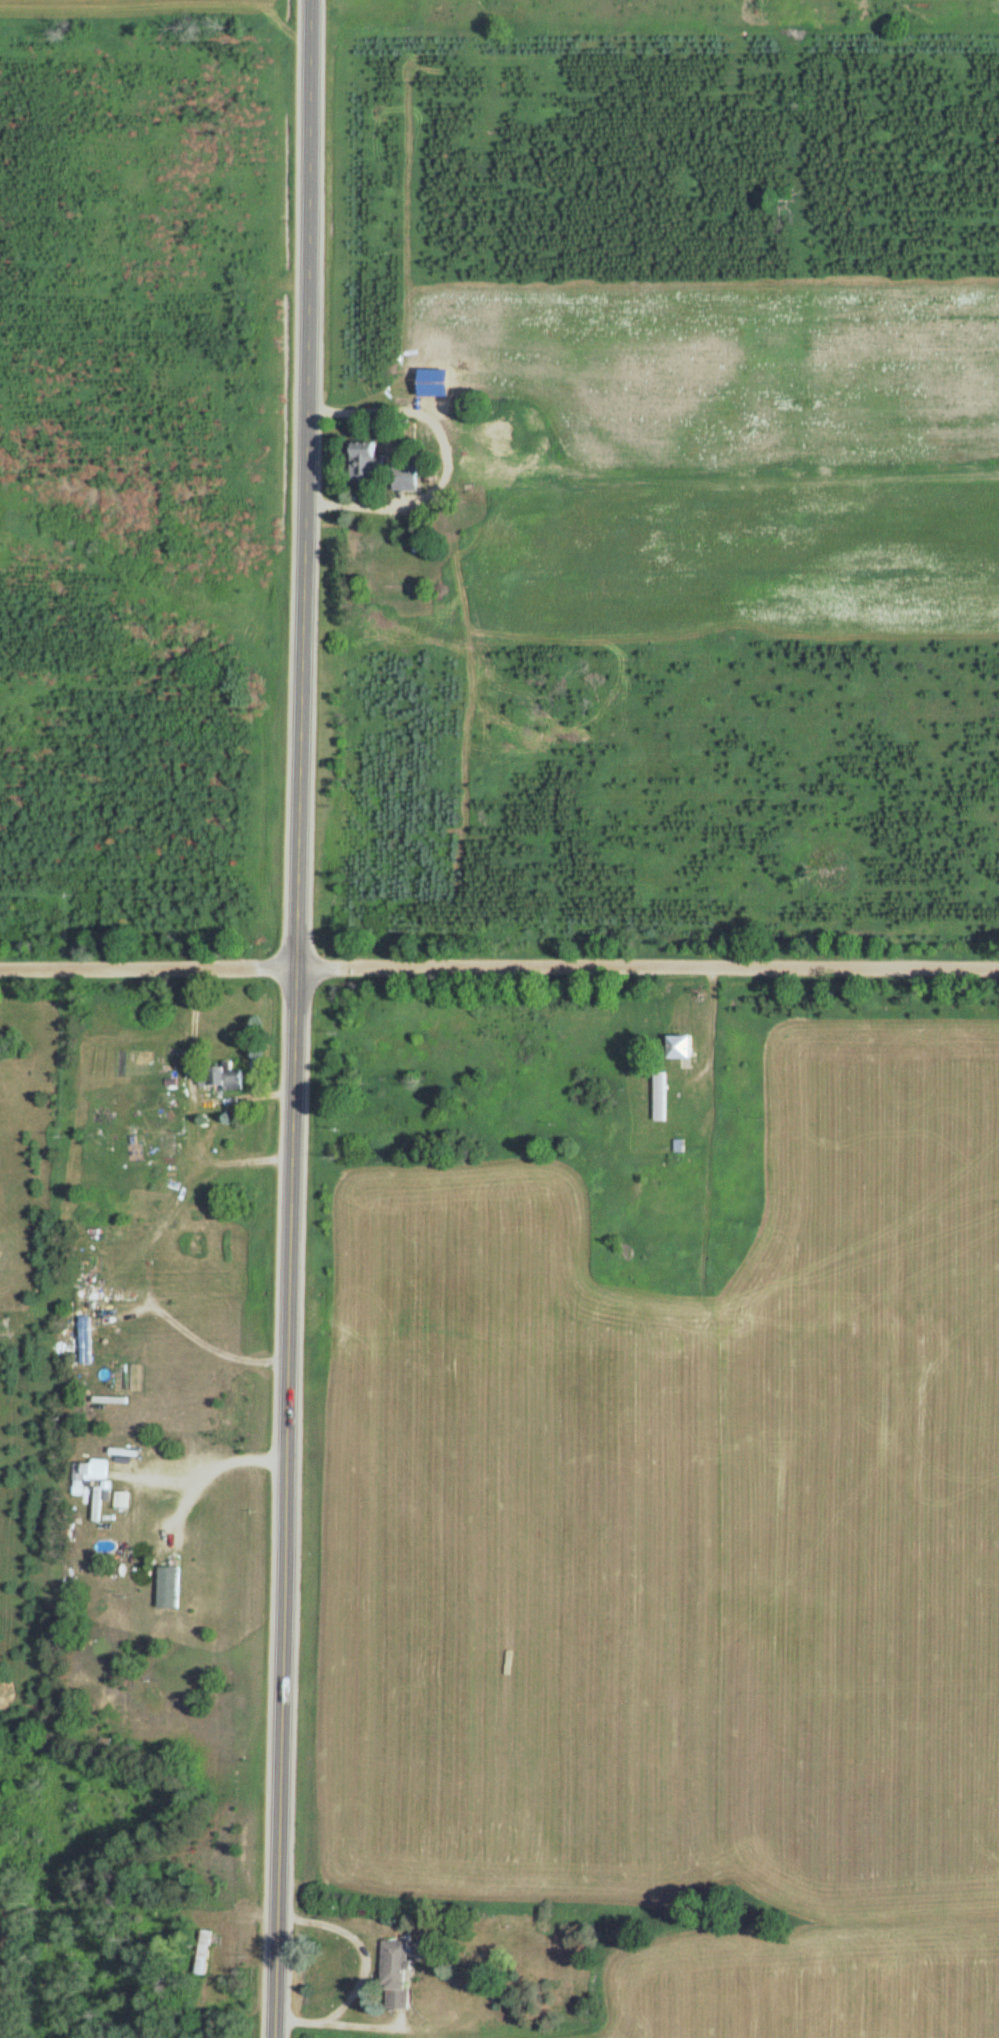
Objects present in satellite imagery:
building: (371, 463)
road: (305, 484)
road: (499, 970)
building: (684, 1047)
building: (225, 1078)
building: (661, 1096)
building: (105, 1119)
building: (86, 1340)
building: (91, 1471)
building: (99, 1498)
road: (290, 1503)
building: (172, 1586)
building: (204, 1952)
building: (397, 1965)

